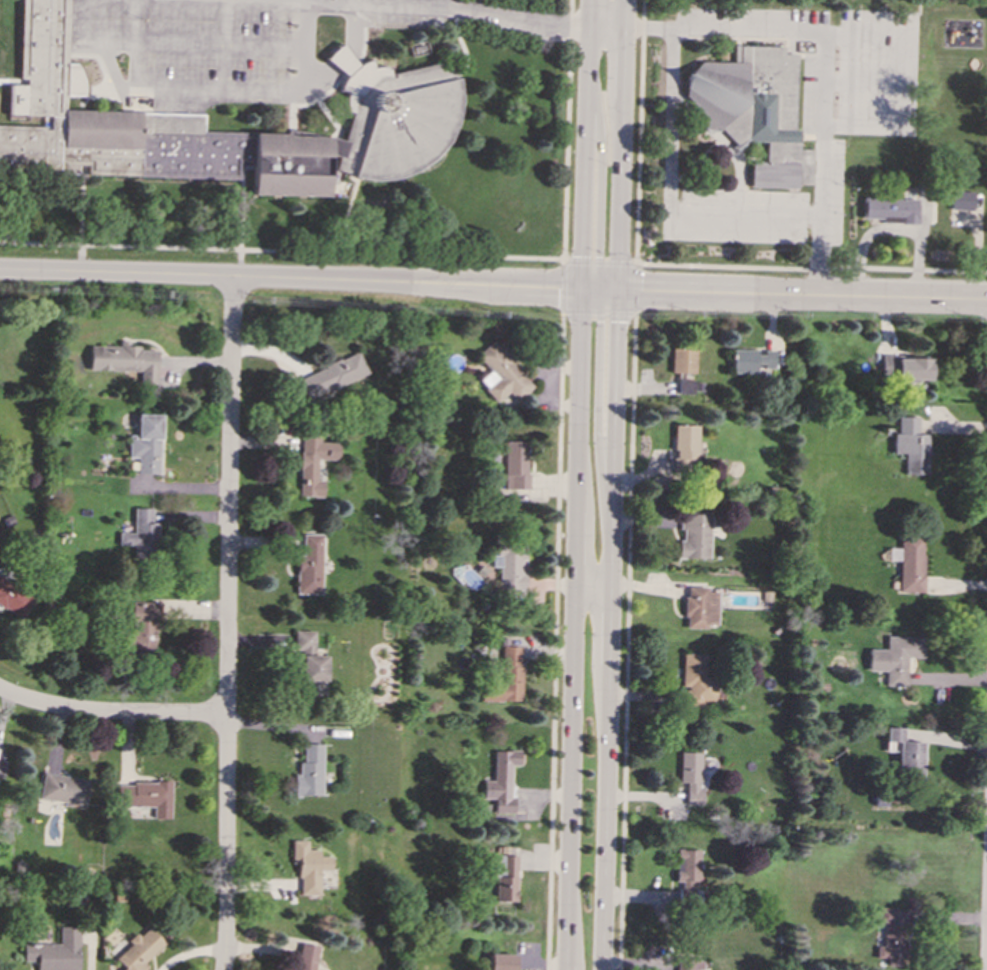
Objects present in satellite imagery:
road: (295, 0)
road: (918, 16)
road: (481, 19)
road: (726, 26)
road: (566, 29)
road: (870, 30)
road: (608, 32)
road: (547, 38)
parking lot: (223, 47)
road: (908, 79)
road: (10, 81)
road: (868, 83)
road: (288, 89)
building: (755, 109)
building: (397, 119)
road: (866, 128)
road: (567, 129)
building: (142, 130)
road: (640, 131)
road: (587, 144)
road: (622, 146)
road: (826, 163)
road: (602, 189)
road: (670, 197)
building: (963, 199)
building: (889, 209)
road: (240, 221)
road: (80, 223)
road: (282, 249)
traffic signals: (586, 256)
road: (600, 260)
road: (812, 267)
road: (292, 280)
road: (564, 284)
road: (635, 287)
traffic signals: (557, 288)
road: (601, 290)
traffic signals: (642, 292)
road: (802, 295)
road: (598, 311)
traffic signals: (617, 321)
building: (124, 360)
building: (682, 360)
building: (752, 360)
building: (905, 368)
building: (501, 373)
building: (332, 376)
road: (598, 415)
building: (146, 444)
building: (910, 445)
building: (684, 447)
building: (313, 463)
building: (516, 465)
building: (141, 533)
building: (694, 536)
building: (910, 563)
building: (309, 565)
building: (510, 566)
building: (14, 599)
building: (700, 607)
road: (227, 624)
building: (141, 629)
road: (575, 629)
road: (609, 630)
road: (554, 640)
road: (626, 641)
building: (894, 658)
building: (310, 663)
building: (505, 676)
building: (696, 680)
road: (111, 712)
building: (903, 752)
building: (309, 771)
building: (690, 776)
building: (501, 780)
building: (62, 788)
building: (145, 796)
building: (309, 866)
building: (686, 871)
building: (504, 873)
building: (889, 938)
building: (138, 950)
building: (55, 951)
road: (89, 953)
road: (986, 954)
building: (306, 957)
building: (688, 964)

